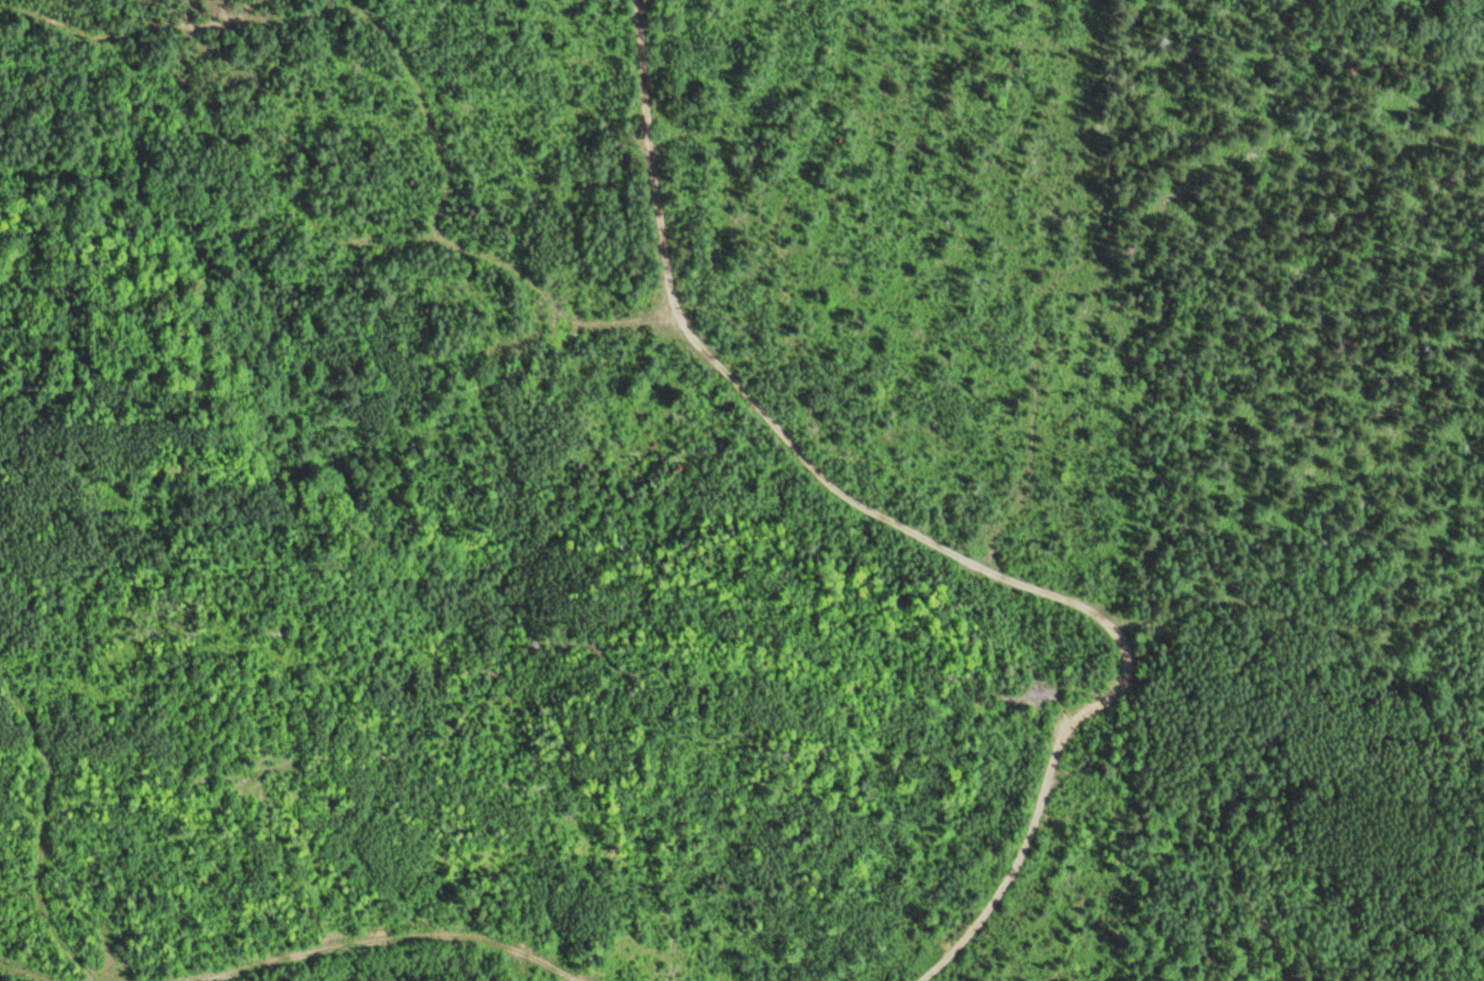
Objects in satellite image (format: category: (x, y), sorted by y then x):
road: (924, 525)
road: (382, 942)
road: (17, 977)

